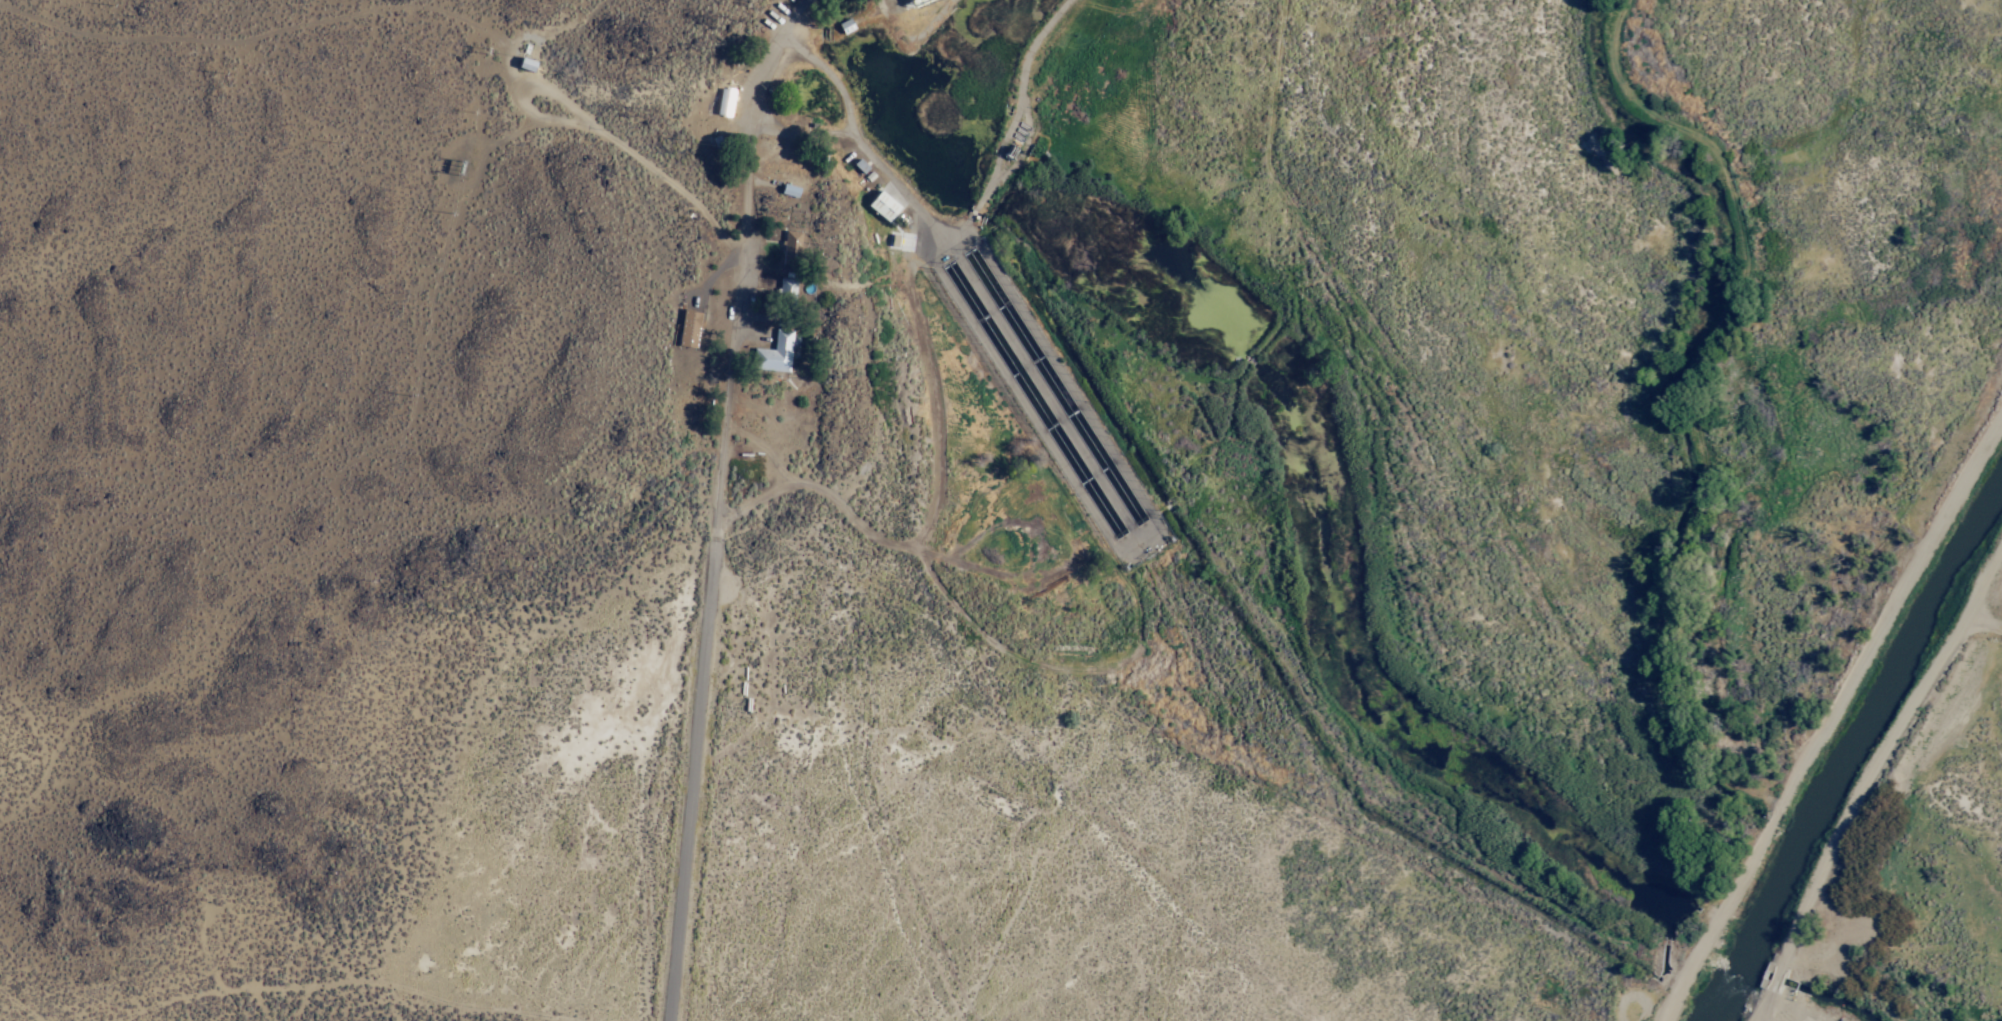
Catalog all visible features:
road: (782, 16)
building: (845, 25)
road: (273, 34)
building: (528, 64)
building: (726, 102)
road: (632, 159)
building: (861, 166)
building: (791, 190)
building: (885, 206)
building: (893, 240)
building: (792, 249)
building: (787, 289)
building: (690, 330)
building: (777, 353)
aquafarm: (1250, 441)
building: (1097, 485)
road: (719, 531)
road: (1987, 621)
road: (1835, 722)
road: (1867, 784)

